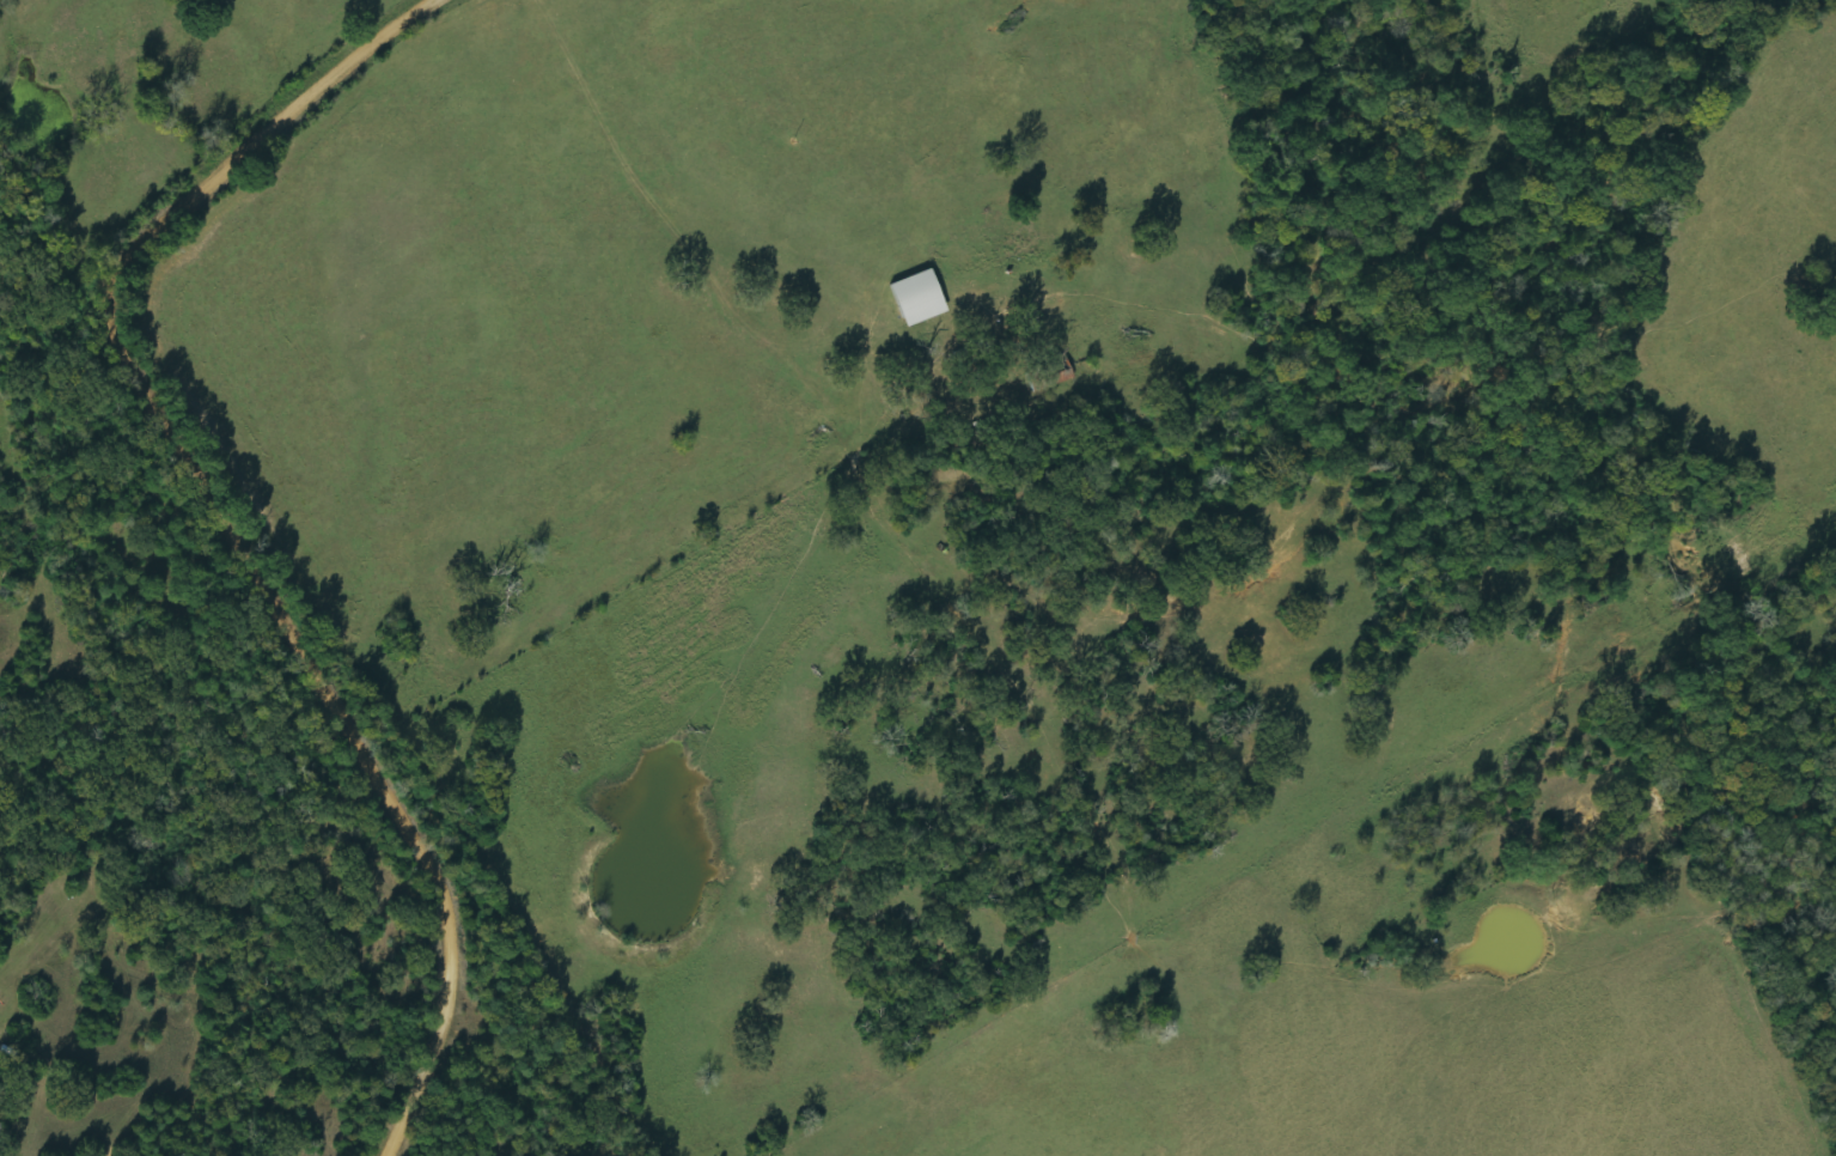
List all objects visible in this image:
road: (658, 208)
building: (916, 298)
road: (214, 517)

